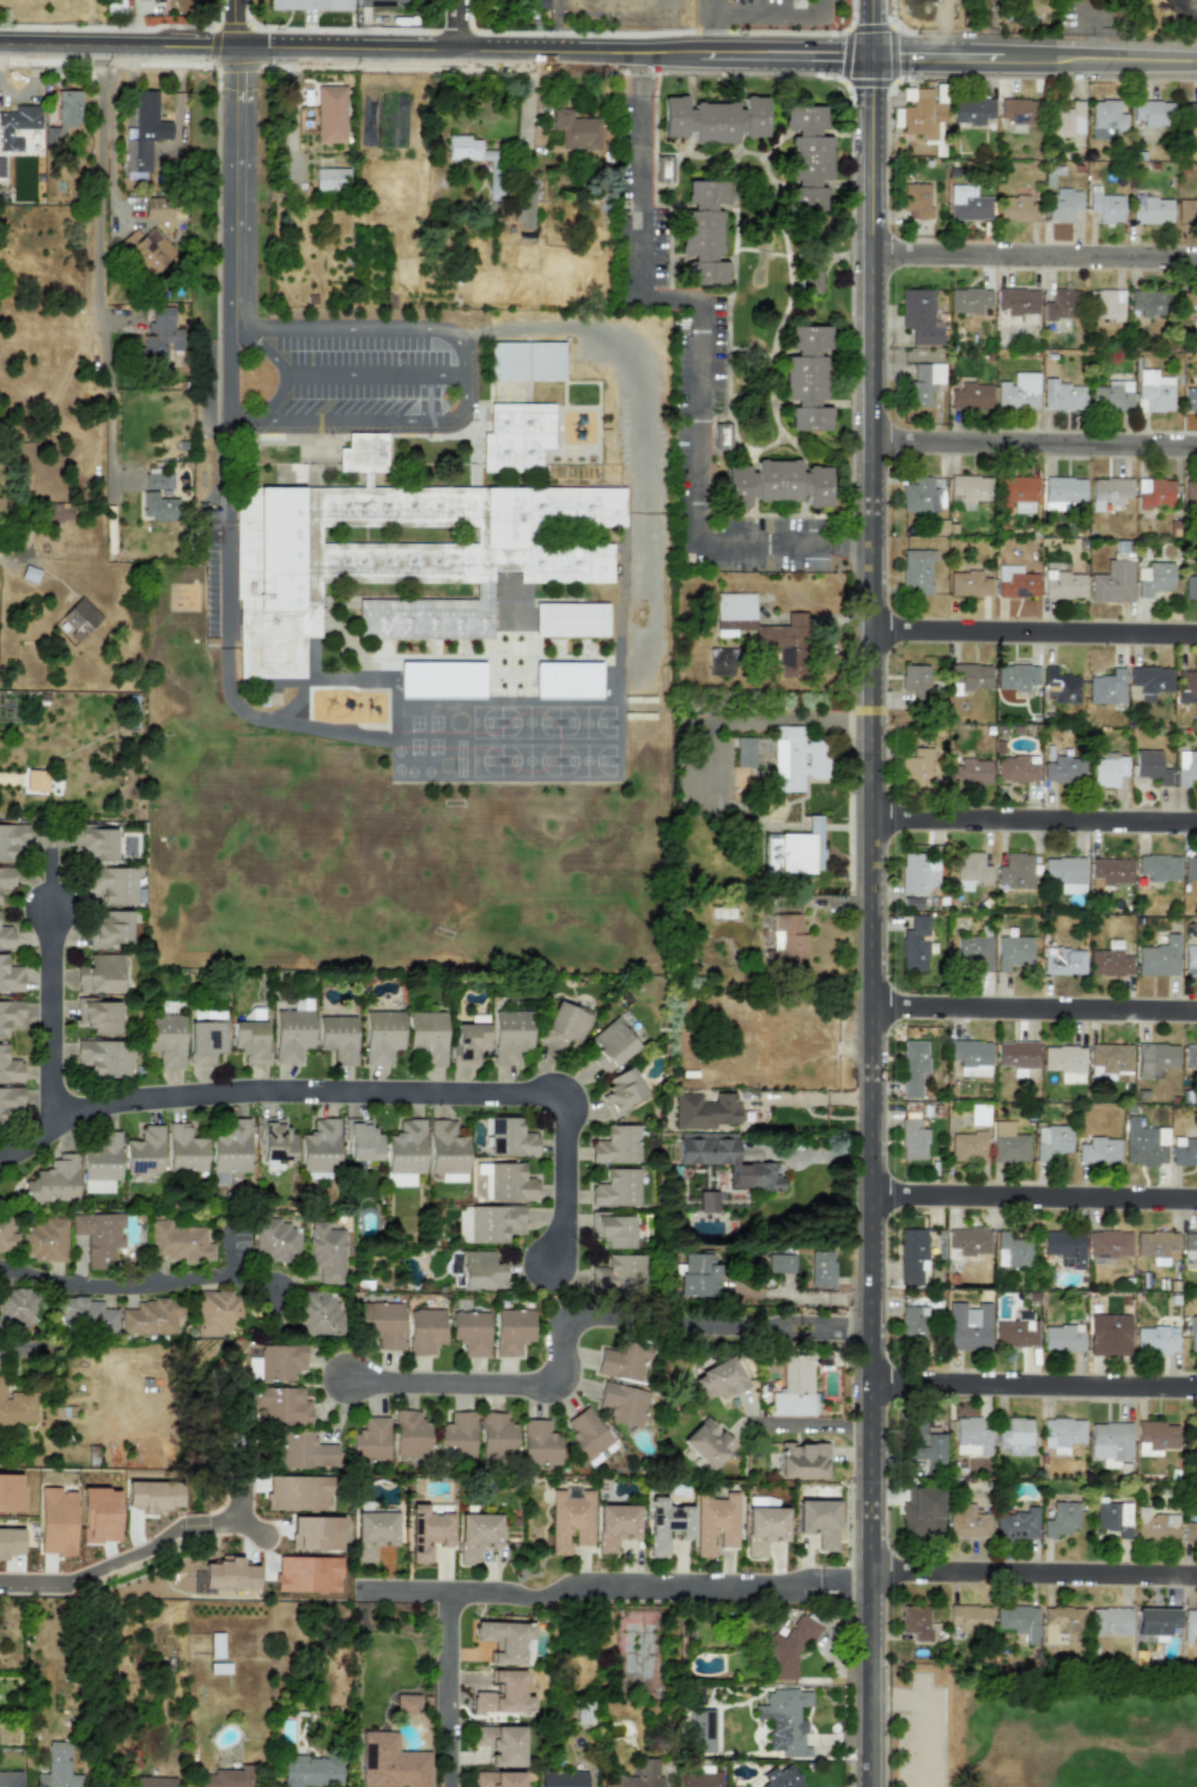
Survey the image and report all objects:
building: (390, 4)
building: (537, 4)
building: (309, 5)
road: (718, 5)
road: (827, 6)
road: (772, 11)
road: (238, 25)
road: (461, 26)
road: (560, 28)
road: (876, 30)
road: (437, 53)
road: (1037, 61)
building: (971, 109)
building: (919, 113)
building: (1016, 113)
building: (1152, 113)
building: (330, 114)
building: (1106, 115)
building: (63, 116)
building: (711, 120)
building: (1064, 120)
building: (17, 126)
building: (577, 128)
building: (144, 132)
building: (476, 158)
building: (806, 158)
building: (332, 178)
building: (916, 200)
building: (967, 203)
building: (525, 205)
building: (1062, 205)
building: (1106, 206)
building: (163, 208)
building: (1016, 208)
building: (1152, 211)
building: (1186, 211)
building: (703, 232)
road: (225, 242)
building: (146, 248)
road: (1035, 255)
building: (810, 276)
road: (101, 298)
building: (968, 300)
building: (1016, 300)
building: (1061, 304)
building: (1105, 304)
building: (1147, 304)
building: (1187, 305)
building: (918, 317)
building: (160, 340)
building: (525, 360)
road: (695, 364)
road: (376, 375)
building: (806, 378)
building: (922, 383)
road: (462, 389)
building: (1017, 391)
building: (1153, 391)
building: (1062, 395)
building: (970, 396)
building: (1111, 396)
building: (1190, 400)
building: (516, 436)
road: (1035, 446)
building: (363, 454)
building: (158, 479)
building: (777, 482)
building: (970, 487)
building: (1190, 490)
building: (1063, 492)
building: (1107, 492)
building: (1153, 493)
building: (1017, 494)
building: (918, 496)
building: (1, 505)
building: (158, 506)
building: (57, 512)
road: (11, 558)
building: (399, 558)
building: (917, 570)
building: (1153, 577)
building: (1014, 582)
building: (1111, 582)
building: (968, 583)
building: (1063, 584)
building: (1190, 586)
building: (733, 613)
building: (79, 619)
building: (570, 620)
road: (1035, 631)
building: (782, 645)
building: (722, 662)
building: (915, 676)
building: (1015, 676)
building: (440, 680)
building: (567, 680)
building: (1149, 681)
building: (1187, 683)
building: (1059, 686)
building: (1105, 687)
road: (758, 719)
road: (578, 741)
building: (743, 752)
building: (796, 759)
building: (918, 766)
building: (1064, 766)
building: (1150, 766)
building: (1185, 766)
building: (1015, 767)
building: (1107, 770)
building: (968, 772)
building: (36, 779)
building: (771, 809)
road: (1035, 821)
building: (12, 840)
building: (96, 843)
building: (795, 849)
building: (1157, 867)
building: (970, 869)
building: (1190, 869)
building: (1015, 871)
building: (1107, 871)
building: (1064, 873)
building: (918, 874)
building: (6, 877)
building: (114, 885)
building: (911, 901)
road: (874, 923)
building: (111, 928)
building: (6, 937)
building: (785, 943)
building: (913, 943)
building: (973, 952)
building: (1011, 952)
building: (1157, 958)
building: (1110, 960)
building: (1190, 960)
building: (1064, 961)
building: (103, 973)
building: (10, 977)
road: (1035, 1010)
building: (207, 1015)
building: (10, 1016)
building: (98, 1016)
road: (53, 1023)
building: (564, 1026)
building: (292, 1031)
building: (249, 1035)
building: (382, 1035)
building: (510, 1035)
building: (427, 1037)
building: (338, 1038)
building: (165, 1039)
building: (205, 1041)
building: (610, 1045)
building: (971, 1056)
building: (1190, 1056)
building: (1111, 1057)
building: (1154, 1057)
building: (1064, 1062)
building: (8, 1068)
building: (912, 1068)
building: (621, 1090)
road: (813, 1094)
road: (361, 1095)
building: (8, 1100)
building: (705, 1111)
building: (978, 1114)
building: (508, 1137)
building: (911, 1138)
building: (275, 1139)
building: (1050, 1141)
building: (1008, 1143)
building: (1143, 1143)
building: (616, 1144)
building: (320, 1145)
building: (967, 1145)
building: (231, 1148)
building: (406, 1148)
building: (446, 1148)
building: (706, 1148)
building: (184, 1150)
building: (1099, 1150)
building: (145, 1151)
building: (1184, 1151)
building: (101, 1165)
building: (762, 1174)
building: (399, 1179)
building: (53, 1181)
building: (506, 1181)
building: (616, 1189)
road: (1035, 1198)
building: (706, 1202)
building: (487, 1223)
building: (613, 1229)
building: (706, 1229)
building: (7, 1236)
building: (98, 1236)
building: (43, 1239)
building: (970, 1240)
building: (278, 1241)
building: (178, 1242)
building: (1110, 1244)
building: (1064, 1245)
building: (1156, 1245)
building: (1189, 1245)
road: (235, 1250)
building: (1011, 1251)
building: (327, 1252)
building: (911, 1254)
building: (779, 1263)
building: (821, 1268)
building: (481, 1271)
building: (698, 1274)
building: (619, 1275)
road: (159, 1290)
building: (18, 1306)
building: (217, 1312)
building: (320, 1312)
building: (85, 1314)
building: (151, 1317)
road: (578, 1321)
building: (382, 1323)
building: (912, 1323)
building: (967, 1326)
building: (1016, 1330)
building: (424, 1331)
building: (511, 1331)
building: (470, 1332)
building: (1192, 1332)
building: (1108, 1335)
building: (1062, 1337)
building: (1155, 1339)
road: (1, 1353)
building: (275, 1361)
building: (624, 1362)
building: (717, 1379)
road: (1035, 1384)
building: (795, 1387)
building: (622, 1404)
building: (281, 1405)
building: (16, 1406)
road: (816, 1426)
building: (1192, 1433)
building: (1062, 1434)
building: (409, 1435)
building: (456, 1435)
building: (588, 1435)
building: (496, 1436)
building: (1016, 1436)
building: (971, 1437)
building: (1155, 1437)
building: (370, 1440)
building: (1111, 1440)
building: (539, 1442)
building: (706, 1442)
building: (305, 1451)
building: (930, 1451)
building: (802, 1460)
building: (298, 1493)
building: (152, 1496)
building: (11, 1505)
building: (923, 1513)
building: (98, 1514)
building: (1113, 1518)
building: (966, 1519)
building: (1062, 1519)
building: (570, 1520)
building: (55, 1521)
building: (818, 1521)
building: (715, 1522)
building: (664, 1524)
building: (1017, 1524)
building: (614, 1525)
building: (762, 1528)
building: (1156, 1528)
building: (1191, 1530)
building: (426, 1531)
building: (316, 1533)
building: (372, 1533)
building: (475, 1534)
building: (10, 1540)
road: (132, 1551)
road: (1034, 1572)
building: (306, 1573)
building: (229, 1574)
road: (844, 1584)
road: (583, 1585)
building: (971, 1618)
building: (1063, 1618)
building: (1019, 1621)
building: (1110, 1621)
building: (1156, 1621)
building: (915, 1622)
building: (1190, 1622)
building: (504, 1640)
building: (789, 1646)
road: (445, 1690)
building: (503, 1694)
building: (784, 1720)
park: (1040, 1725)
building: (701, 1730)
road: (916, 1732)
building: (502, 1744)
building: (390, 1762)
building: (59, 1768)
building: (310, 1770)
building: (638, 1775)
building: (226, 1777)
building: (700, 1777)
building: (780, 1777)
building: (11, 1779)
building: (498, 1779)
building: (563, 1779)
building: (152, 1781)

